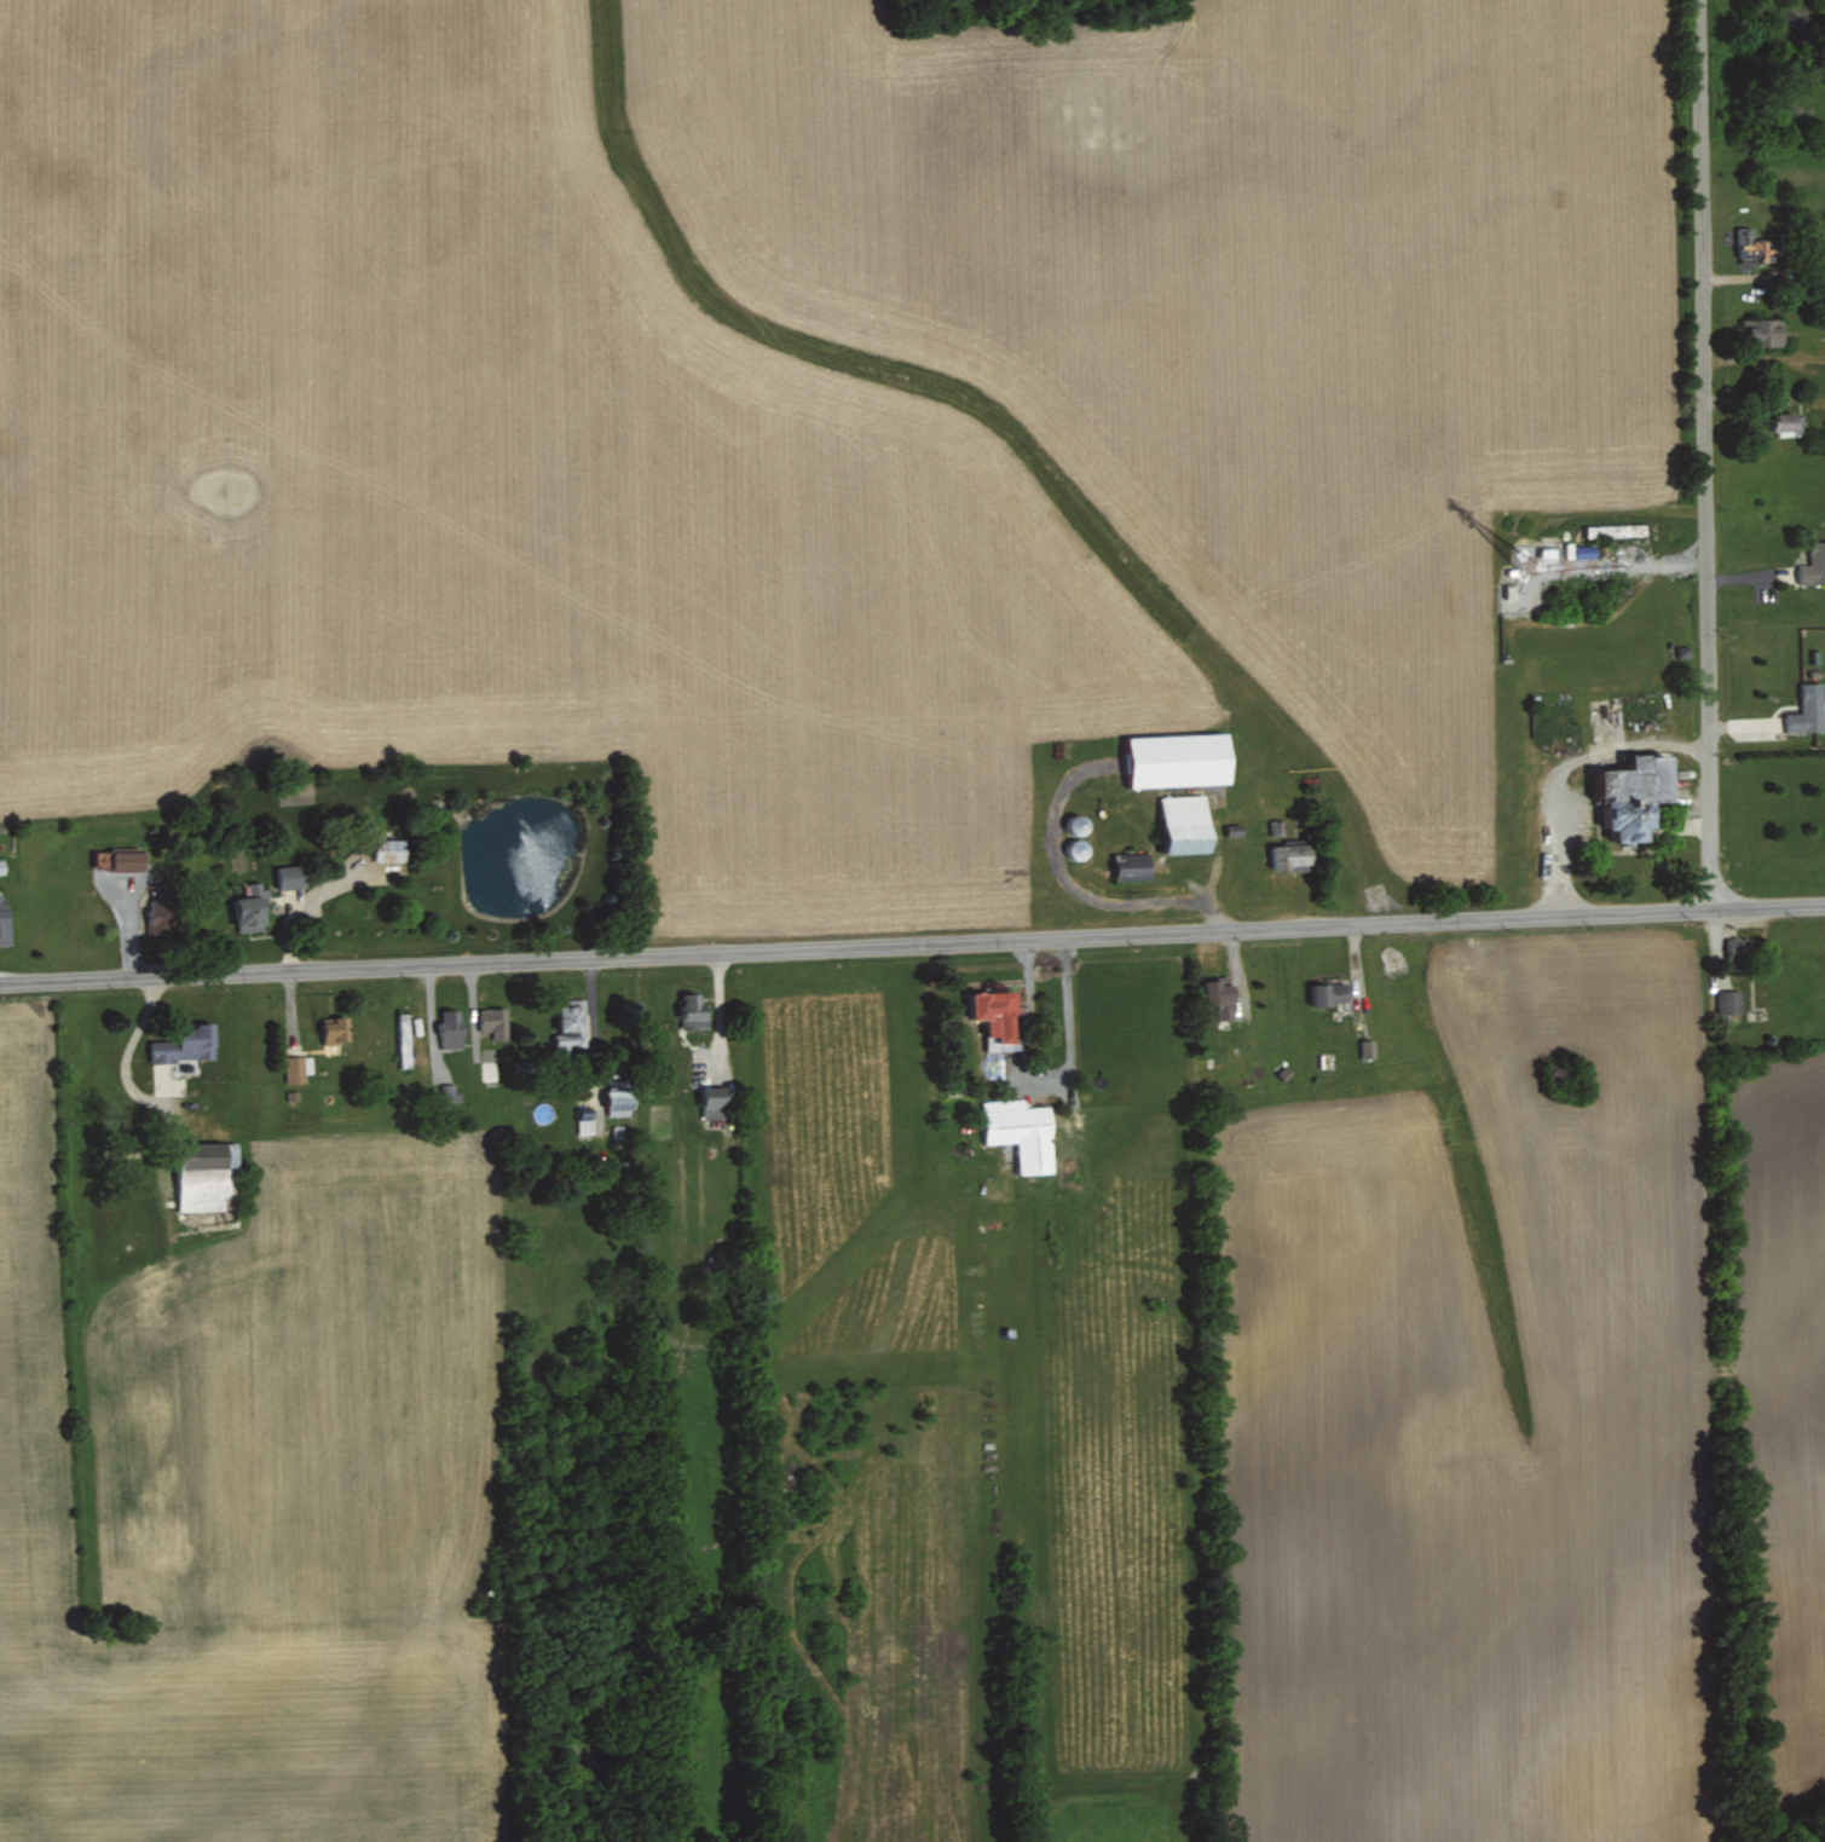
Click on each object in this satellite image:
building: (1752, 246)
building: (1767, 330)
building: (1786, 422)
road: (1705, 455)
building: (1567, 549)
building: (1586, 550)
building: (1814, 564)
building: (1808, 710)
building: (1179, 758)
road: (1559, 766)
building: (1635, 793)
building: (1184, 819)
building: (388, 849)
building: (1292, 854)
building: (128, 860)
building: (1133, 865)
building: (291, 876)
building: (252, 907)
building: (161, 914)
building: (4, 919)
road: (912, 947)
building: (1737, 949)
building: (1329, 993)
building: (1220, 997)
building: (1729, 1000)
building: (693, 1011)
building: (997, 1012)
building: (571, 1017)
building: (495, 1021)
building: (452, 1028)
building: (337, 1029)
building: (403, 1039)
road: (131, 1041)
building: (187, 1044)
building: (1367, 1047)
building: (298, 1067)
road: (1039, 1081)
building: (449, 1092)
building: (715, 1101)
building: (620, 1102)
building: (585, 1121)
building: (1021, 1132)
building: (204, 1177)

